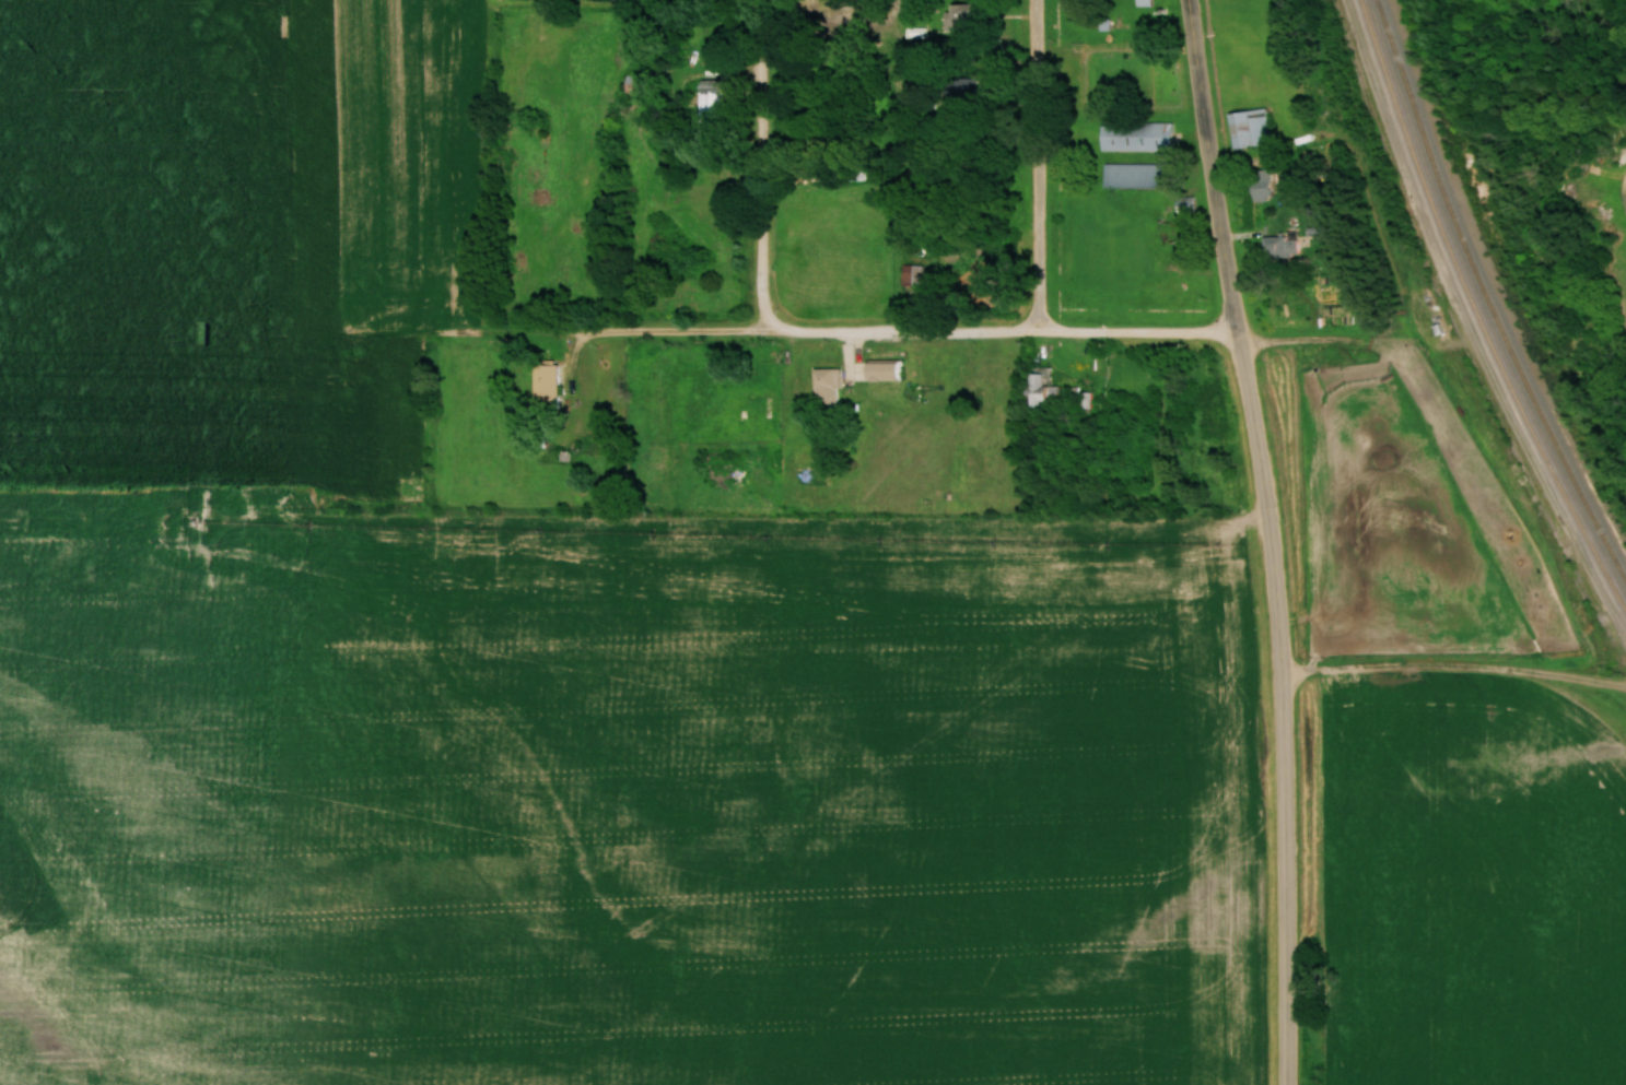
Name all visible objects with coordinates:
building: (1140, 2)
building: (956, 15)
building: (914, 33)
building: (709, 99)
building: (1248, 128)
building: (1136, 134)
road: (1038, 165)
road: (761, 166)
building: (1133, 173)
building: (1259, 185)
road: (1535, 201)
building: (1182, 204)
building: (1278, 246)
road: (1225, 263)
building: (910, 275)
railway: (1484, 297)
railway: (1474, 311)
road: (897, 332)
building: (880, 372)
building: (993, 378)
building: (542, 381)
building: (823, 387)
building: (1040, 388)
road: (1286, 804)

